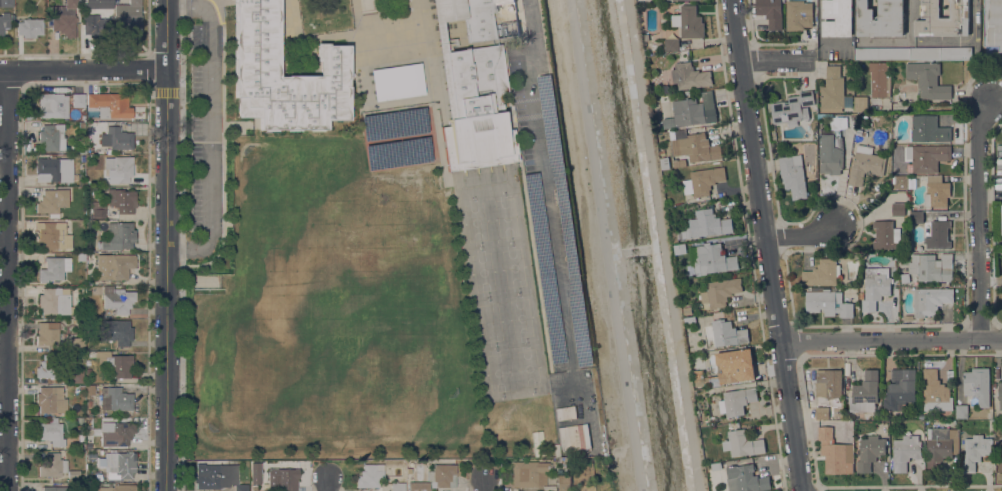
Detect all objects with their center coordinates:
building: (692, 0)
building: (6, 3)
building: (106, 3)
building: (770, 12)
building: (798, 14)
building: (129, 17)
building: (837, 17)
building: (880, 18)
building: (64, 19)
building: (942, 19)
building: (688, 22)
building: (4, 23)
building: (994, 23)
building: (96, 25)
building: (30, 28)
road: (966, 41)
building: (671, 44)
building: (912, 53)
road: (774, 60)
building: (256, 66)
road: (83, 71)
building: (689, 76)
building: (879, 79)
building: (927, 80)
building: (398, 82)
building: (474, 89)
building: (832, 90)
building: (78, 100)
building: (860, 104)
building: (109, 105)
building: (52, 106)
building: (792, 109)
building: (692, 111)
parking lot: (206, 122)
road: (208, 124)
building: (394, 124)
building: (82, 125)
building: (550, 125)
building: (928, 129)
building: (860, 132)
building: (813, 135)
building: (51, 138)
building: (116, 138)
building: (695, 147)
building: (831, 147)
building: (81, 151)
building: (398, 154)
building: (927, 156)
building: (83, 158)
parking lot: (999, 162)
building: (65, 163)
building: (664, 163)
building: (865, 164)
building: (118, 169)
building: (49, 170)
building: (793, 175)
building: (703, 181)
building: (900, 182)
road: (544, 188)
building: (936, 191)
building: (121, 200)
building: (52, 202)
building: (898, 209)
building: (97, 210)
building: (916, 216)
road: (978, 218)
parking lot: (550, 224)
building: (706, 225)
building: (886, 235)
building: (938, 235)
building: (53, 236)
building: (119, 236)
road: (805, 238)
road: (166, 245)
road: (604, 245)
road: (767, 245)
building: (713, 259)
building: (114, 266)
building: (932, 267)
building: (54, 268)
building: (822, 273)
road: (8, 281)
park: (499, 282)
building: (875, 287)
building: (720, 292)
building: (117, 299)
building: (930, 300)
building: (53, 302)
building: (827, 303)
building: (687, 311)
building: (689, 320)
building: (117, 332)
building: (47, 333)
building: (728, 333)
road: (892, 341)
building: (77, 344)
building: (693, 347)
building: (118, 365)
building: (48, 367)
building: (733, 367)
building: (88, 372)
building: (76, 376)
building: (699, 381)
building: (977, 385)
building: (81, 388)
building: (900, 389)
building: (825, 391)
building: (935, 392)
building: (865, 393)
building: (1000, 394)
building: (117, 399)
building: (736, 399)
building: (51, 400)
building: (961, 411)
building: (566, 413)
building: (989, 415)
building: (885, 417)
building: (80, 421)
building: (52, 432)
building: (119, 435)
building: (572, 438)
building: (742, 443)
building: (940, 446)
building: (831, 450)
building: (103, 451)
building: (869, 452)
building: (905, 452)
building: (974, 452)
building: (1000, 455)
building: (91, 456)
building: (113, 458)
building: (52, 465)
building: (122, 467)
building: (408, 471)
building: (73, 474)
building: (139, 474)
building: (255, 474)
building: (528, 474)
building: (370, 475)
building: (98, 476)
building: (215, 476)
building: (442, 476)
building: (282, 479)
building: (745, 479)
building: (563, 482)
road: (486, 485)
road: (330, 486)
building: (418, 486)
building: (241, 487)
building: (397, 487)
building: (54, 488)
building: (119, 488)
building: (253, 488)

